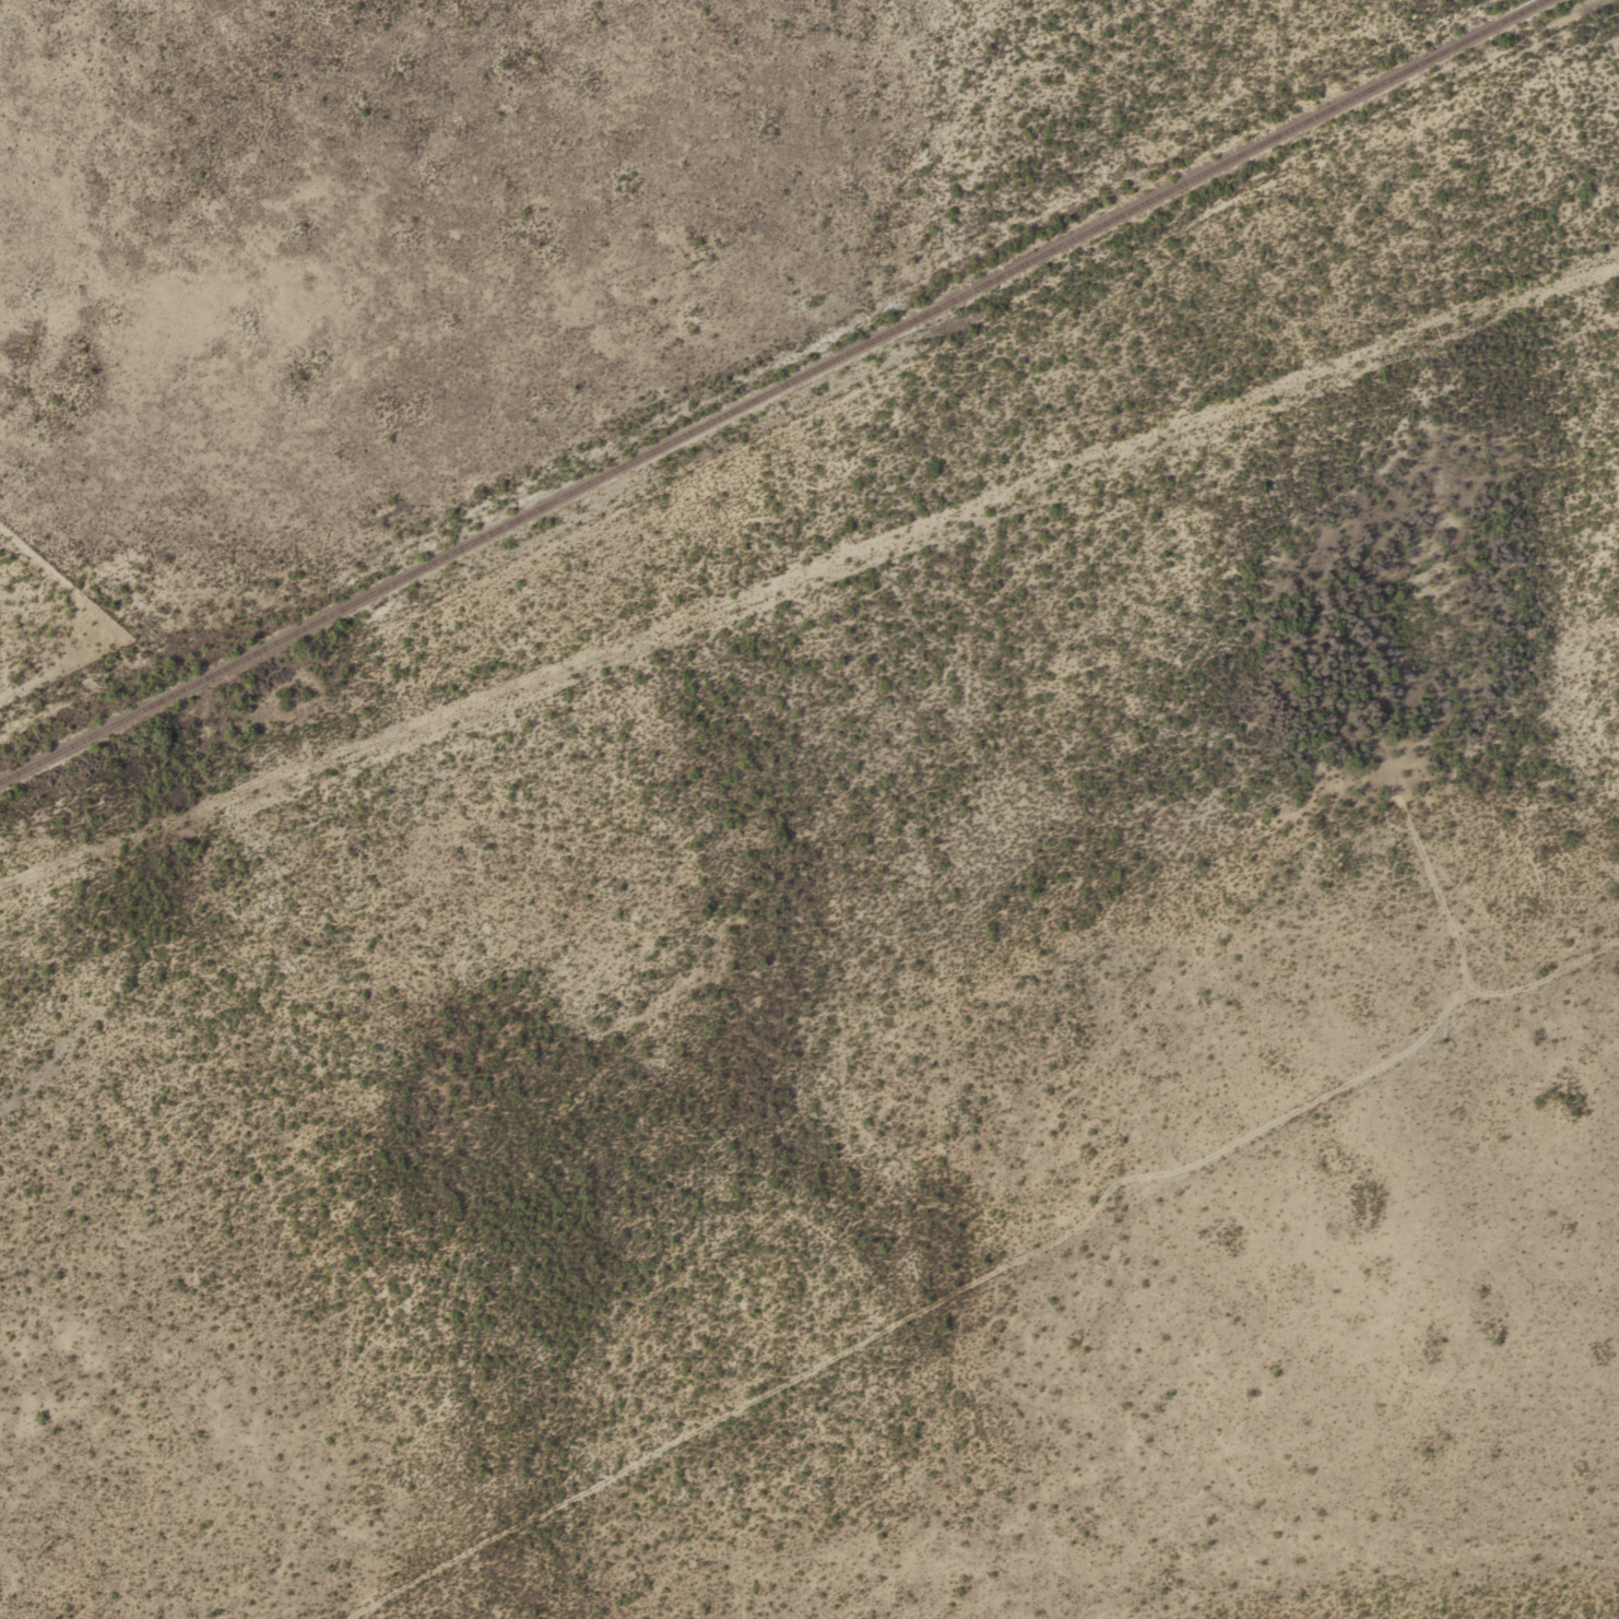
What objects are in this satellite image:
power tower: (1428, 334)
railway: (769, 389)
power tower: (1065, 477)
power tower: (700, 619)
power tower: (336, 763)

